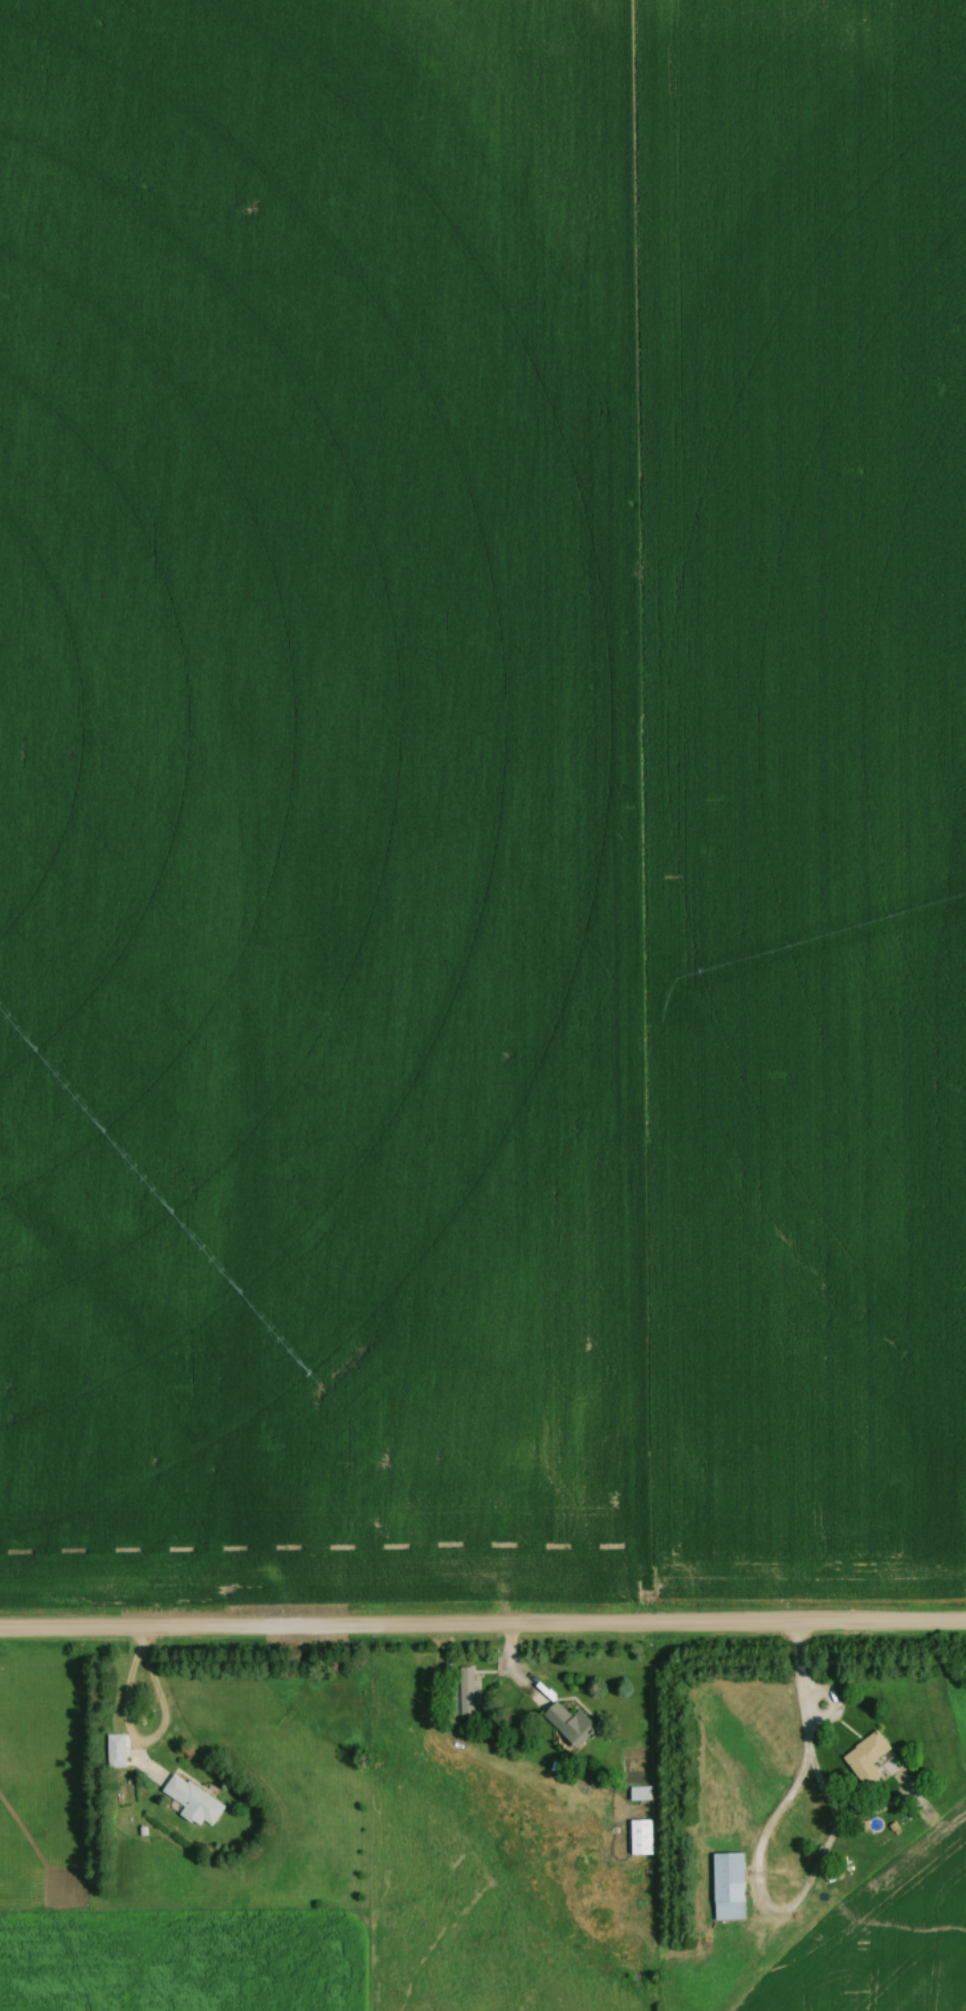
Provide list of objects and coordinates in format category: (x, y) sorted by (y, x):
road: (482, 1624)
road: (139, 1640)
building: (462, 1690)
road: (122, 1696)
building: (568, 1723)
building: (864, 1757)
road: (811, 1773)
building: (637, 1793)
building: (190, 1800)
building: (639, 1836)
building: (726, 1885)

